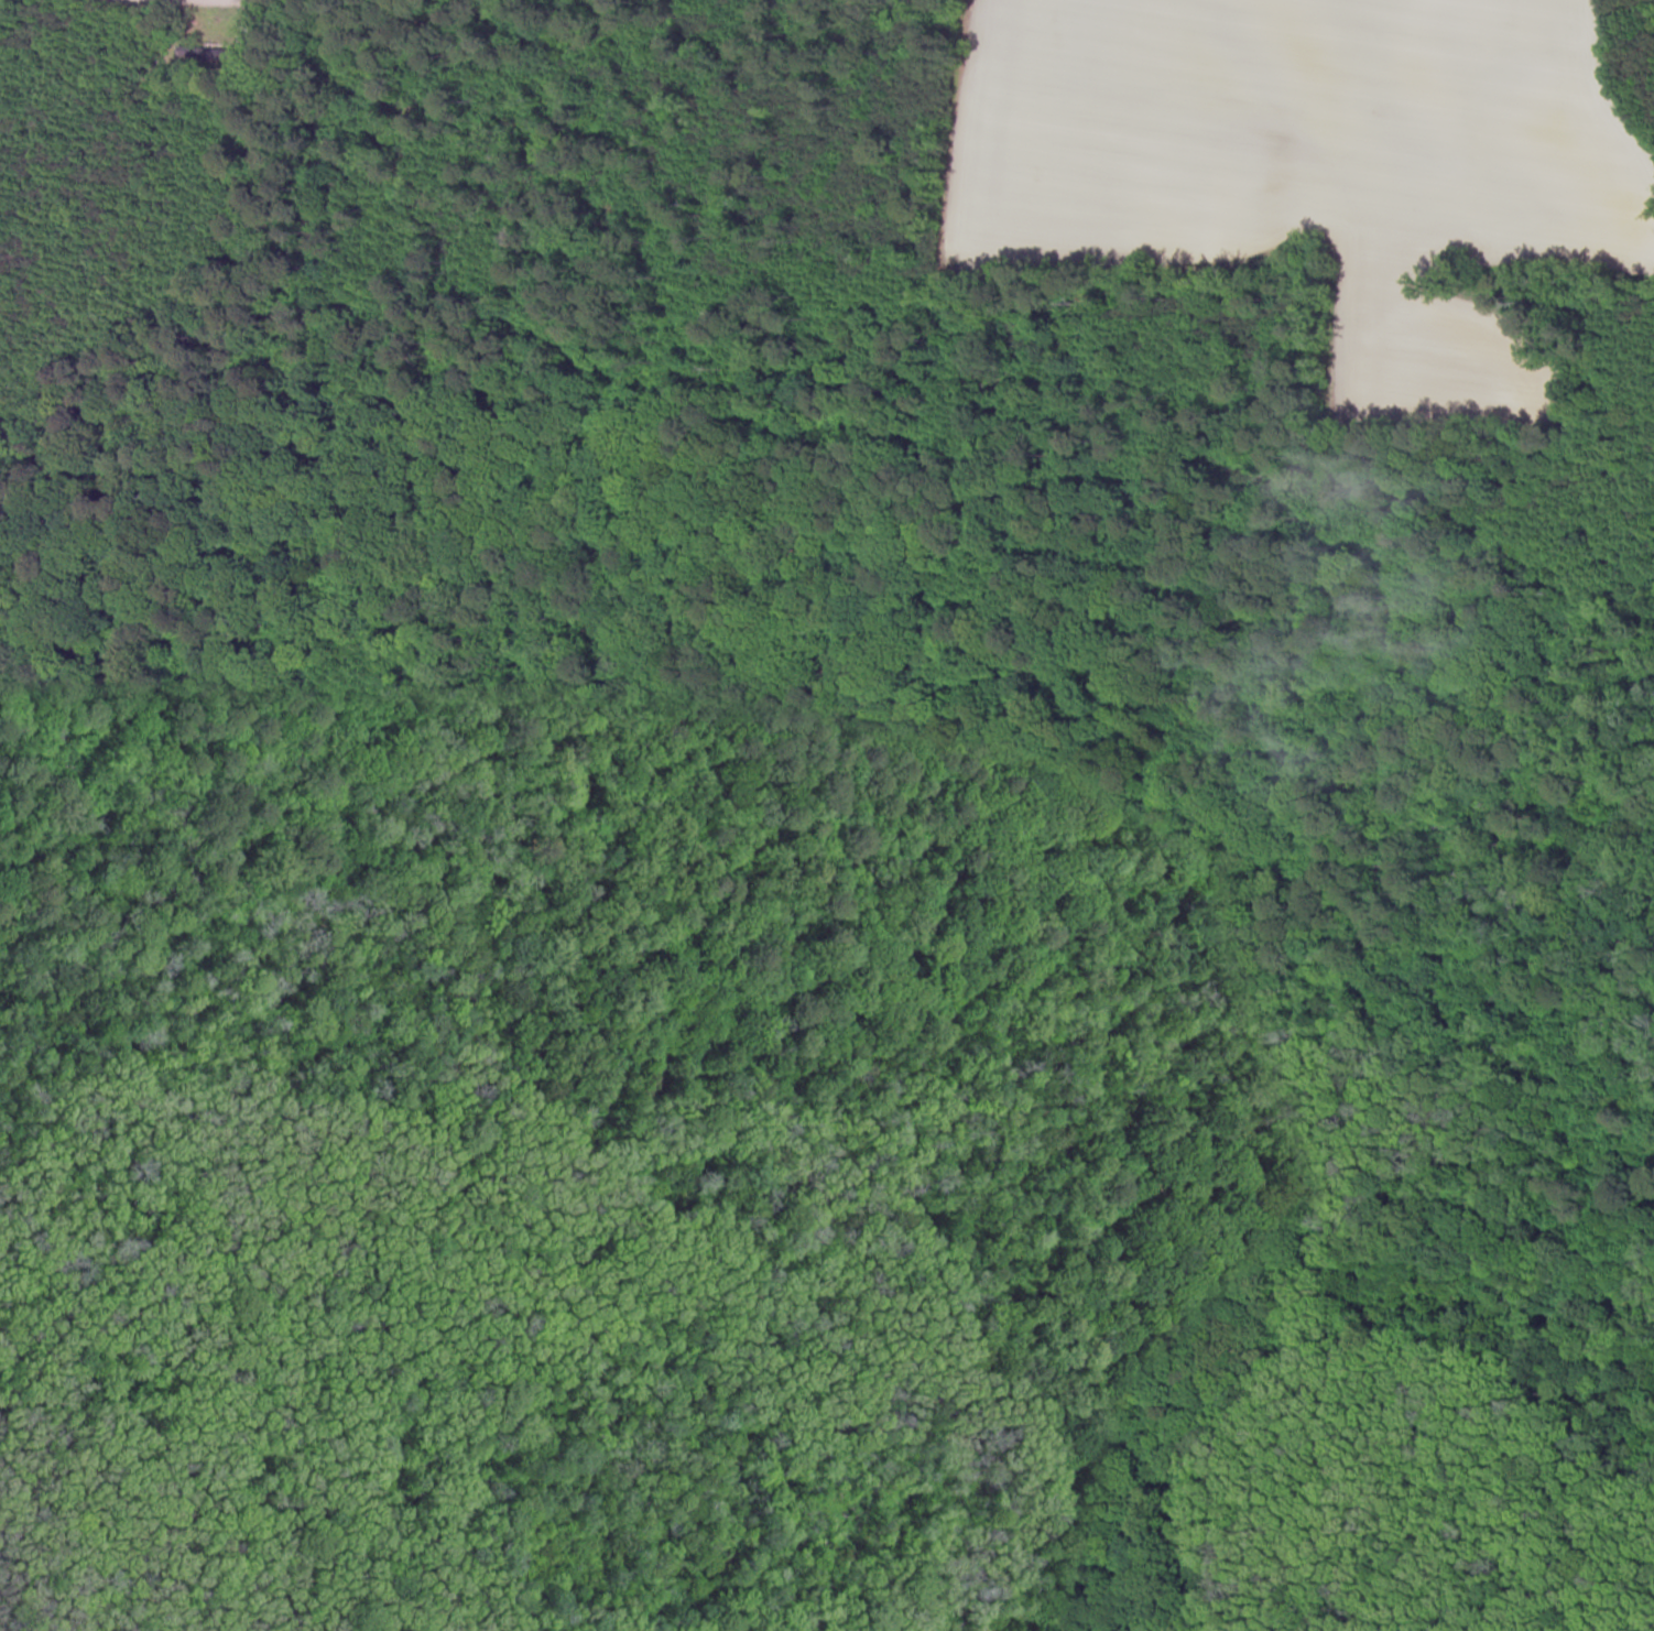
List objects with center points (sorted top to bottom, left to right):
park: (888, 808)
park: (687, 1292)

